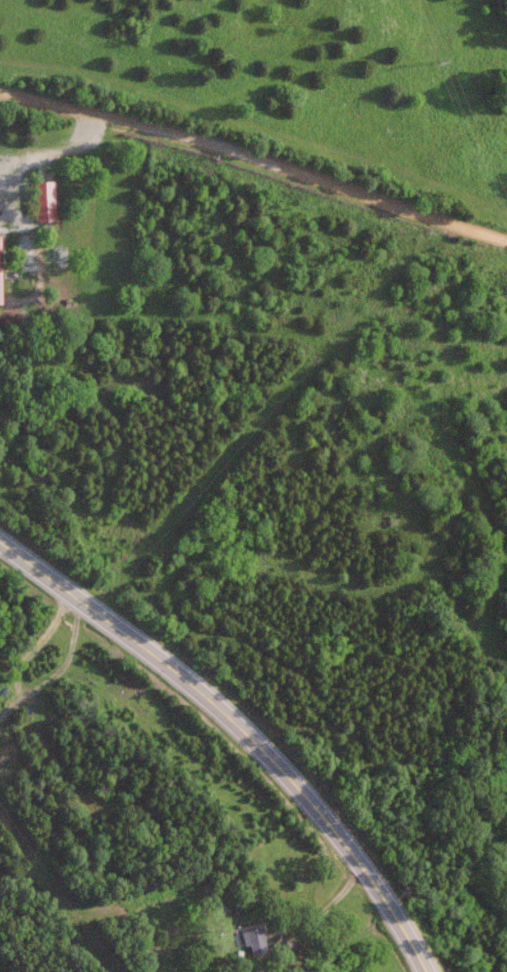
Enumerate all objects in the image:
power tower: (424, 65)
road: (58, 145)
road: (255, 160)
building: (461, 349)
road: (241, 726)
building: (253, 940)

